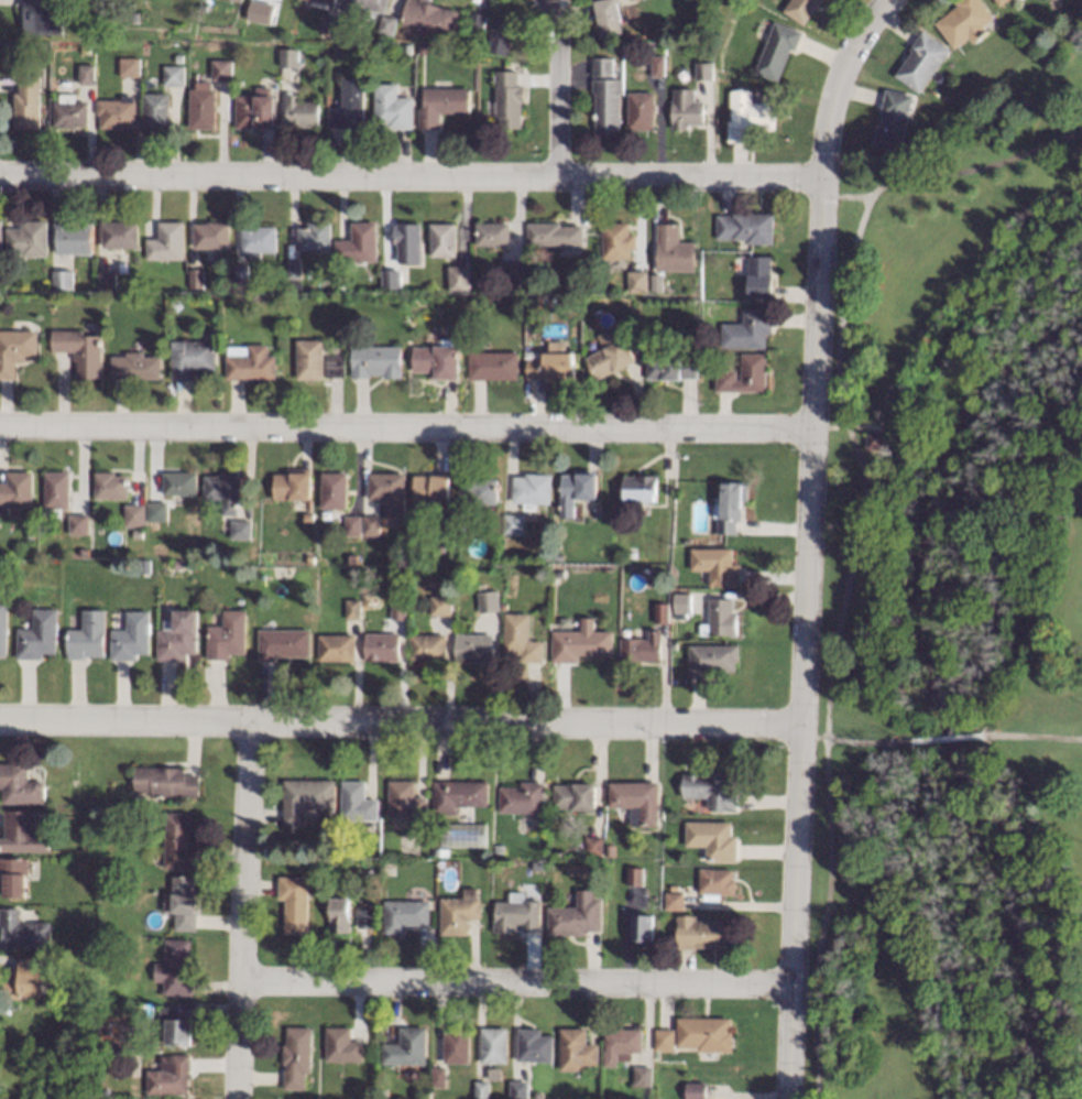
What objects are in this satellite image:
building: (107, 0)
building: (240, 0)
building: (999, 1)
building: (323, 2)
building: (363, 7)
building: (800, 9)
building: (256, 10)
building: (133, 17)
building: (429, 17)
building: (606, 17)
building: (41, 18)
building: (474, 21)
building: (964, 22)
building: (329, 24)
building: (387, 24)
building: (345, 29)
building: (501, 35)
building: (1032, 40)
building: (83, 47)
building: (422, 48)
building: (776, 48)
building: (177, 56)
building: (289, 57)
building: (336, 57)
building: (920, 61)
building: (602, 65)
building: (658, 65)
building: (128, 66)
building: (220, 69)
building: (703, 69)
building: (85, 74)
building: (173, 75)
road: (837, 81)
road: (556, 84)
building: (507, 98)
building: (25, 101)
building: (605, 102)
building: (441, 104)
building: (349, 105)
building: (392, 107)
building: (201, 108)
building: (254, 109)
building: (686, 109)
building: (154, 110)
building: (641, 110)
building: (68, 111)
building: (300, 111)
building: (116, 112)
building: (747, 116)
building: (892, 120)
building: (907, 144)
road: (409, 175)
road: (828, 195)
road: (852, 196)
building: (745, 226)
building: (0, 233)
building: (119, 233)
building: (211, 233)
building: (493, 233)
building: (555, 233)
building: (314, 237)
building: (26, 238)
building: (72, 238)
building: (256, 238)
building: (442, 239)
building: (616, 240)
building: (166, 241)
building: (407, 241)
building: (358, 242)
building: (674, 249)
building: (294, 268)
building: (511, 268)
building: (240, 274)
building: (758, 276)
building: (195, 278)
building: (458, 278)
building: (390, 279)
building: (61, 280)
building: (105, 280)
building: (637, 281)
building: (656, 283)
building: (531, 300)
building: (746, 329)
building: (707, 345)
building: (14, 349)
building: (78, 350)
building: (609, 353)
building: (189, 357)
building: (308, 359)
building: (436, 359)
building: (374, 360)
building: (551, 362)
building: (251, 363)
building: (491, 364)
building: (133, 366)
building: (332, 366)
building: (669, 366)
building: (743, 374)
road: (405, 426)
road: (846, 426)
building: (874, 440)
park: (992, 444)
building: (177, 483)
building: (109, 486)
building: (289, 486)
building: (480, 488)
building: (640, 488)
building: (429, 489)
building: (532, 489)
building: (15, 490)
building: (222, 490)
building: (331, 490)
building: (575, 490)
building: (385, 491)
building: (54, 492)
building: (728, 507)
building: (621, 508)
building: (154, 511)
building: (132, 514)
building: (307, 516)
building: (77, 524)
building: (513, 524)
building: (350, 525)
building: (369, 525)
building: (239, 530)
building: (456, 532)
road: (857, 532)
building: (29, 533)
building: (135, 533)
building: (686, 541)
building: (708, 542)
building: (81, 551)
building: (351, 558)
building: (308, 559)
building: (176, 563)
building: (714, 565)
building: (559, 574)
building: (487, 599)
building: (680, 603)
building: (439, 605)
building: (502, 605)
building: (351, 608)
building: (396, 609)
building: (660, 612)
building: (718, 617)
building: (2, 627)
building: (36, 635)
building: (175, 635)
building: (226, 635)
building: (85, 636)
building: (129, 636)
road: (802, 636)
building: (520, 638)
building: (578, 641)
building: (281, 643)
building: (670, 645)
building: (380, 646)
building: (426, 646)
building: (335, 648)
building: (472, 648)
building: (640, 648)
building: (711, 657)
river: (939, 685)
road: (400, 721)
road: (1030, 736)
road: (812, 737)
road: (944, 738)
road: (866, 742)
building: (164, 781)
building: (19, 784)
building: (710, 788)
building: (458, 795)
building: (573, 795)
building: (305, 797)
building: (522, 797)
building: (635, 801)
building: (357, 802)
building: (406, 803)
building: (21, 833)
park: (895, 833)
building: (463, 834)
building: (712, 838)
building: (177, 842)
building: (592, 846)
building: (498, 848)
building: (435, 850)
building: (609, 850)
building: (370, 869)
building: (13, 875)
building: (633, 875)
building: (715, 882)
building: (118, 896)
building: (674, 900)
building: (294, 903)
building: (181, 904)
road: (241, 910)
building: (458, 912)
building: (338, 914)
building: (515, 914)
building: (403, 915)
building: (575, 915)
building: (365, 918)
building: (641, 928)
building: (22, 932)
building: (702, 932)
building: (174, 967)
building: (23, 979)
road: (515, 982)
building: (87, 994)
building: (102, 1023)
building: (173, 1025)
building: (704, 1033)
building: (664, 1040)
building: (341, 1044)
building: (621, 1044)
building: (492, 1045)
building: (533, 1045)
building: (455, 1046)
building: (405, 1047)
building: (576, 1049)
building: (296, 1056)
building: (492, 1073)
building: (642, 1075)
building: (437, 1076)
building: (167, 1077)
building: (480, 1089)
building: (517, 1090)
building: (695, 1090)
building: (381, 1092)
building: (537, 1095)

